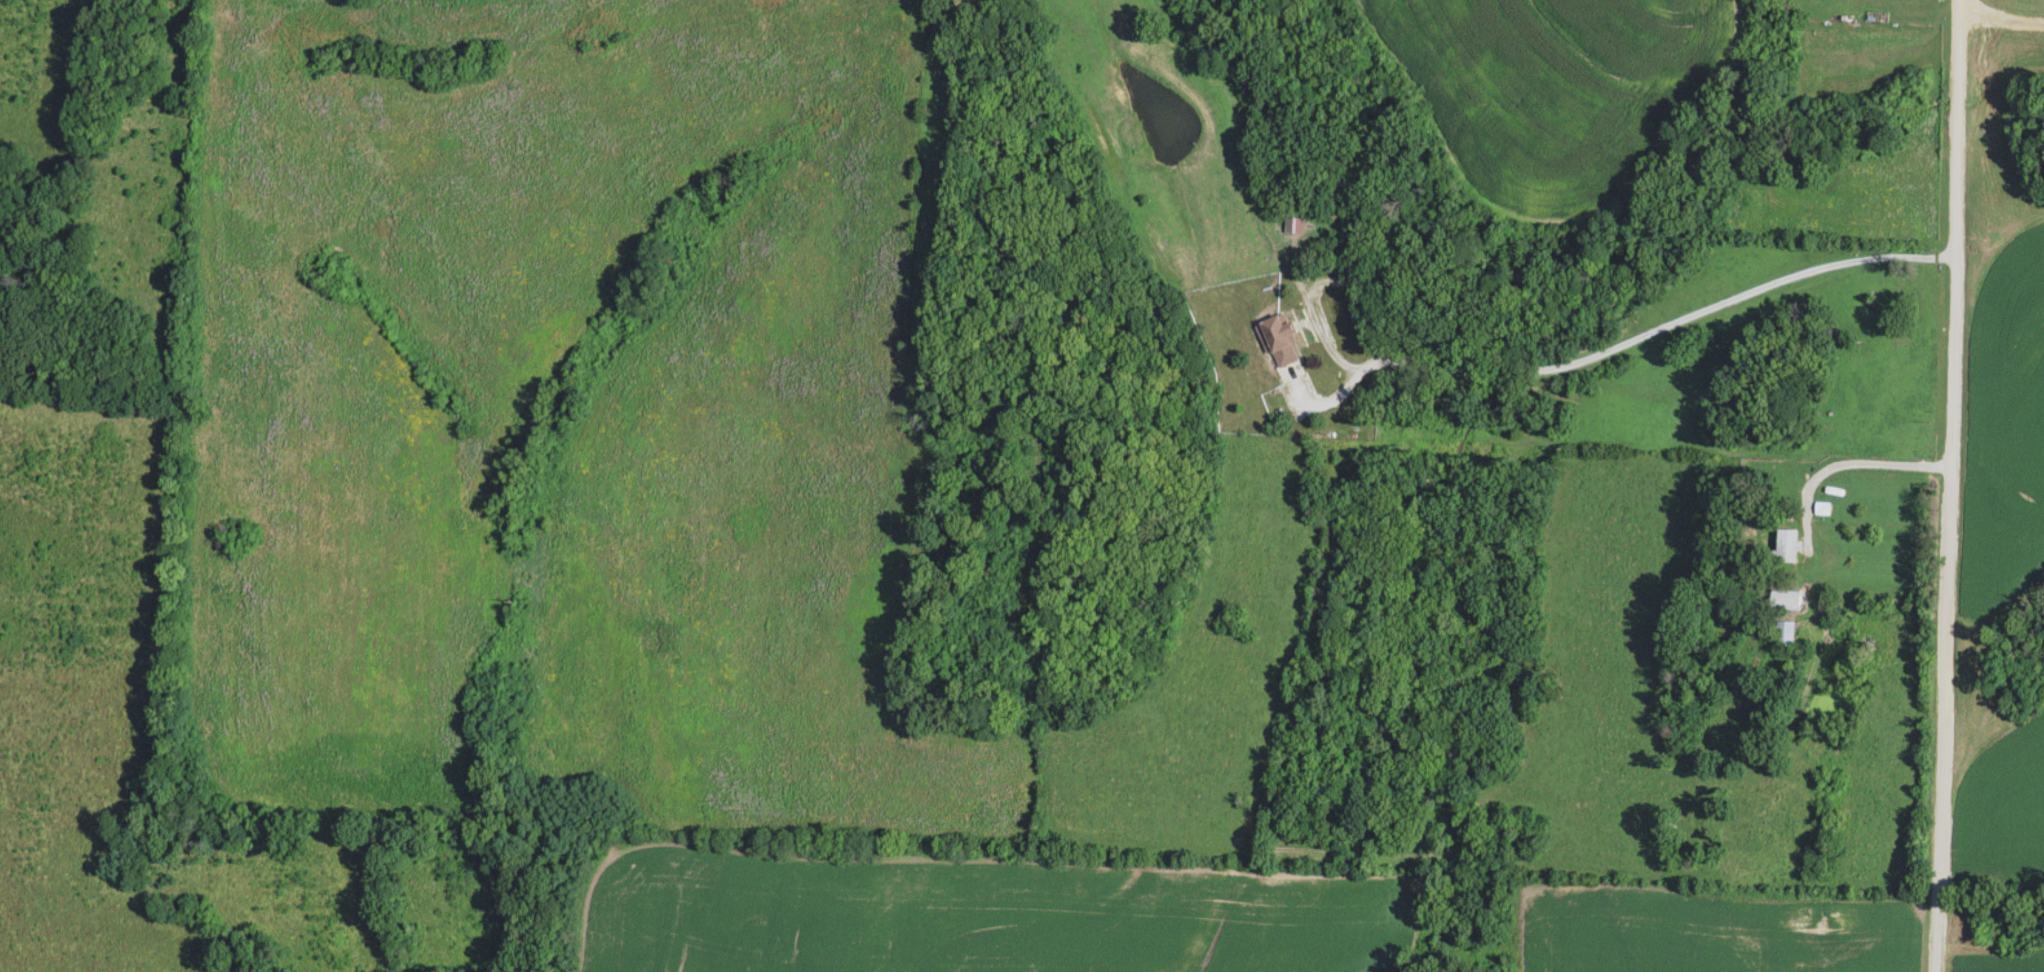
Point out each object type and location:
road: (2000, 20)
building: (1284, 342)
road: (1598, 361)
road: (1854, 463)
road: (1945, 486)
building: (1824, 509)
building: (1791, 546)
building: (1787, 600)
building: (1788, 634)

